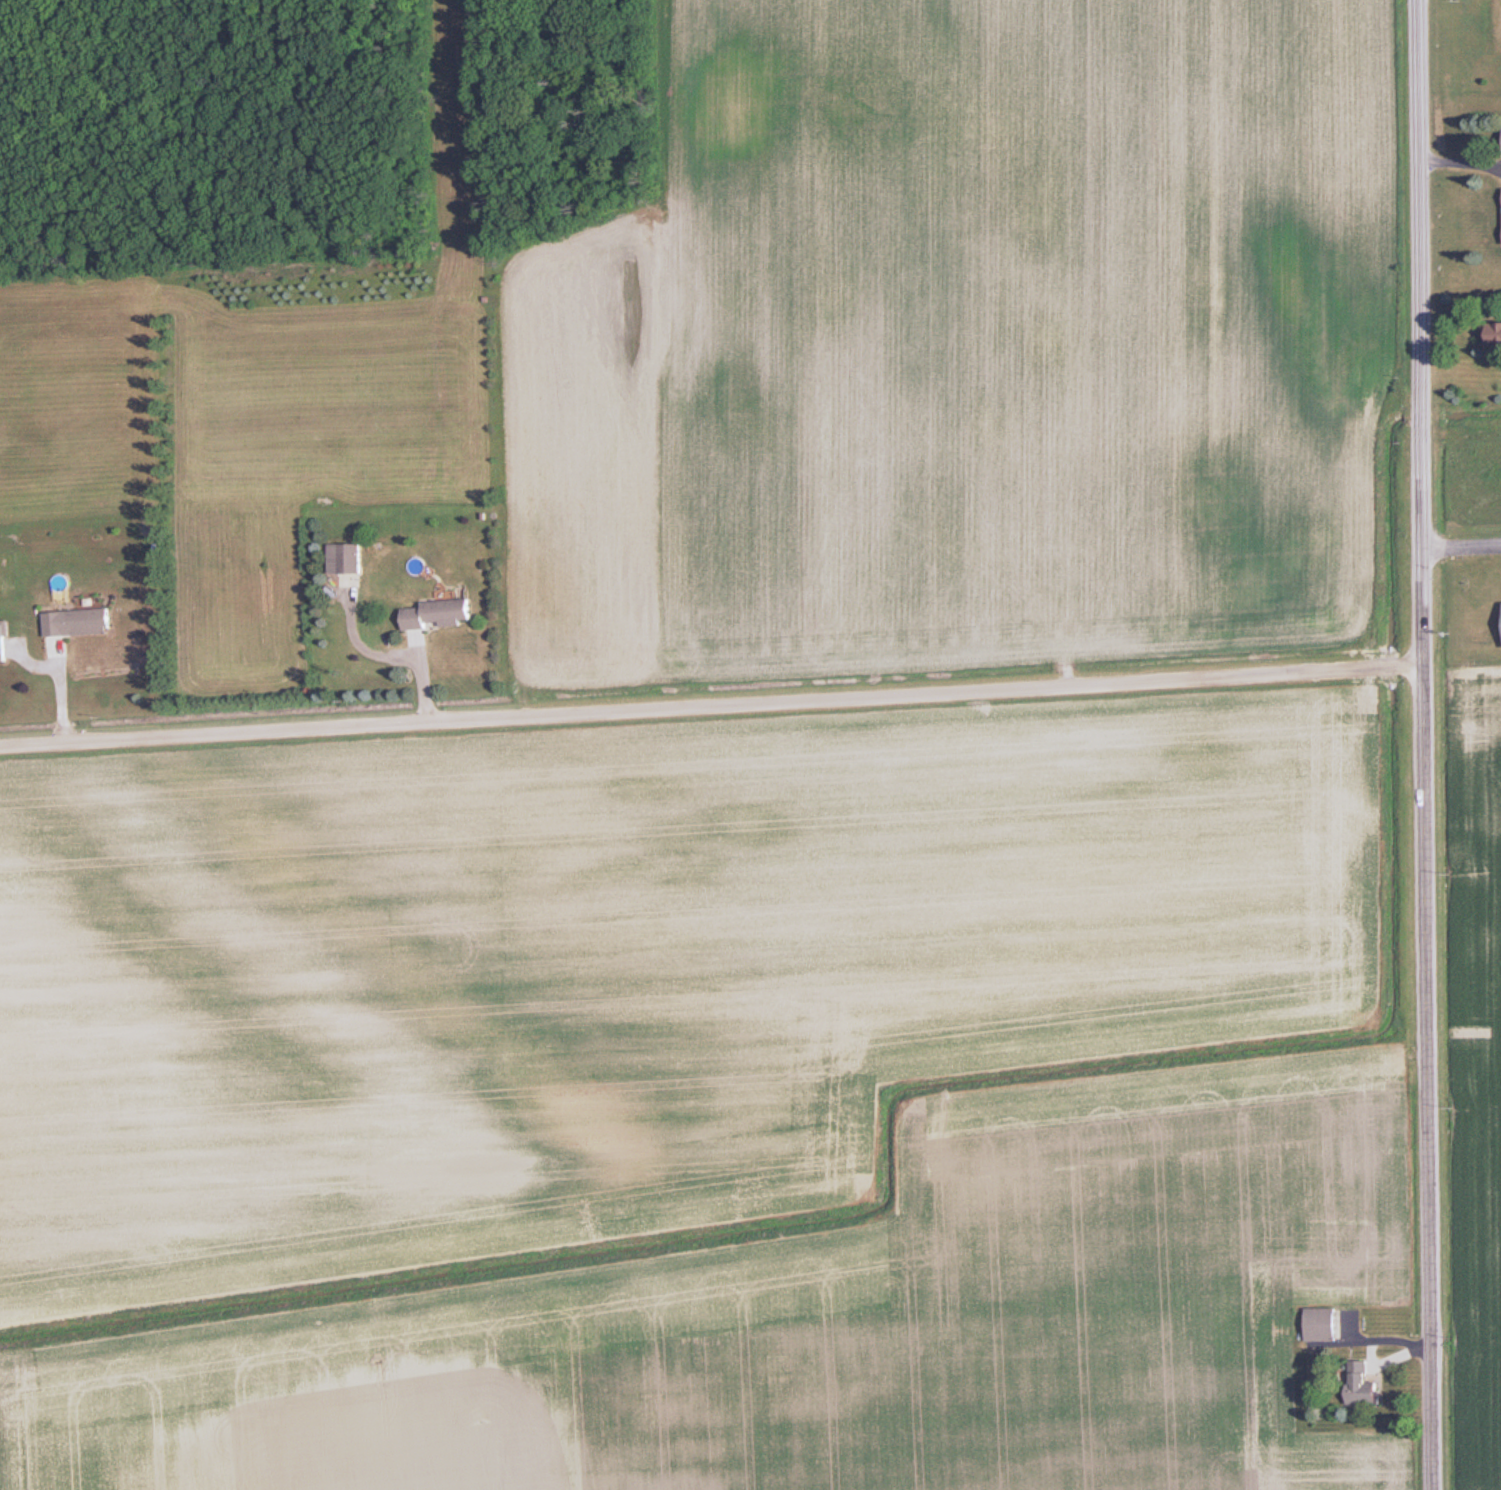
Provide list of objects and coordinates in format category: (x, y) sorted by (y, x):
road: (1459, 146)
building: (1495, 333)
road: (1461, 526)
building: (351, 556)
building: (439, 613)
building: (77, 621)
road: (44, 688)
road: (711, 691)
road: (1423, 745)
building: (1322, 1324)
building: (1362, 1385)

